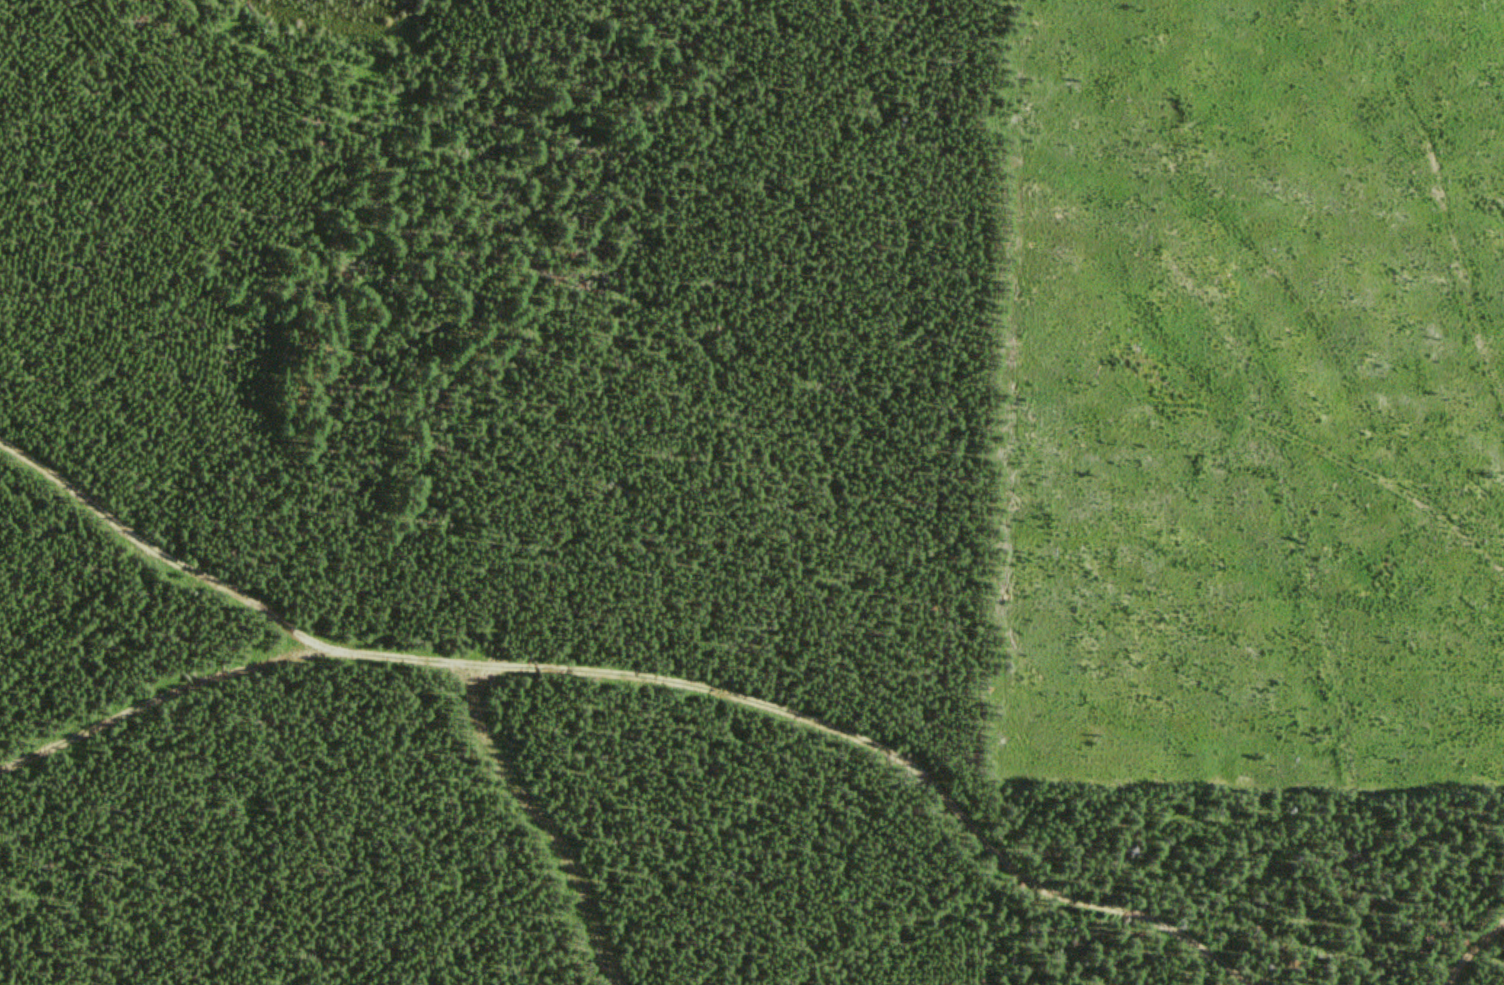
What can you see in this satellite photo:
road: (162, 553)
road: (163, 695)
road: (806, 779)
road: (566, 867)

